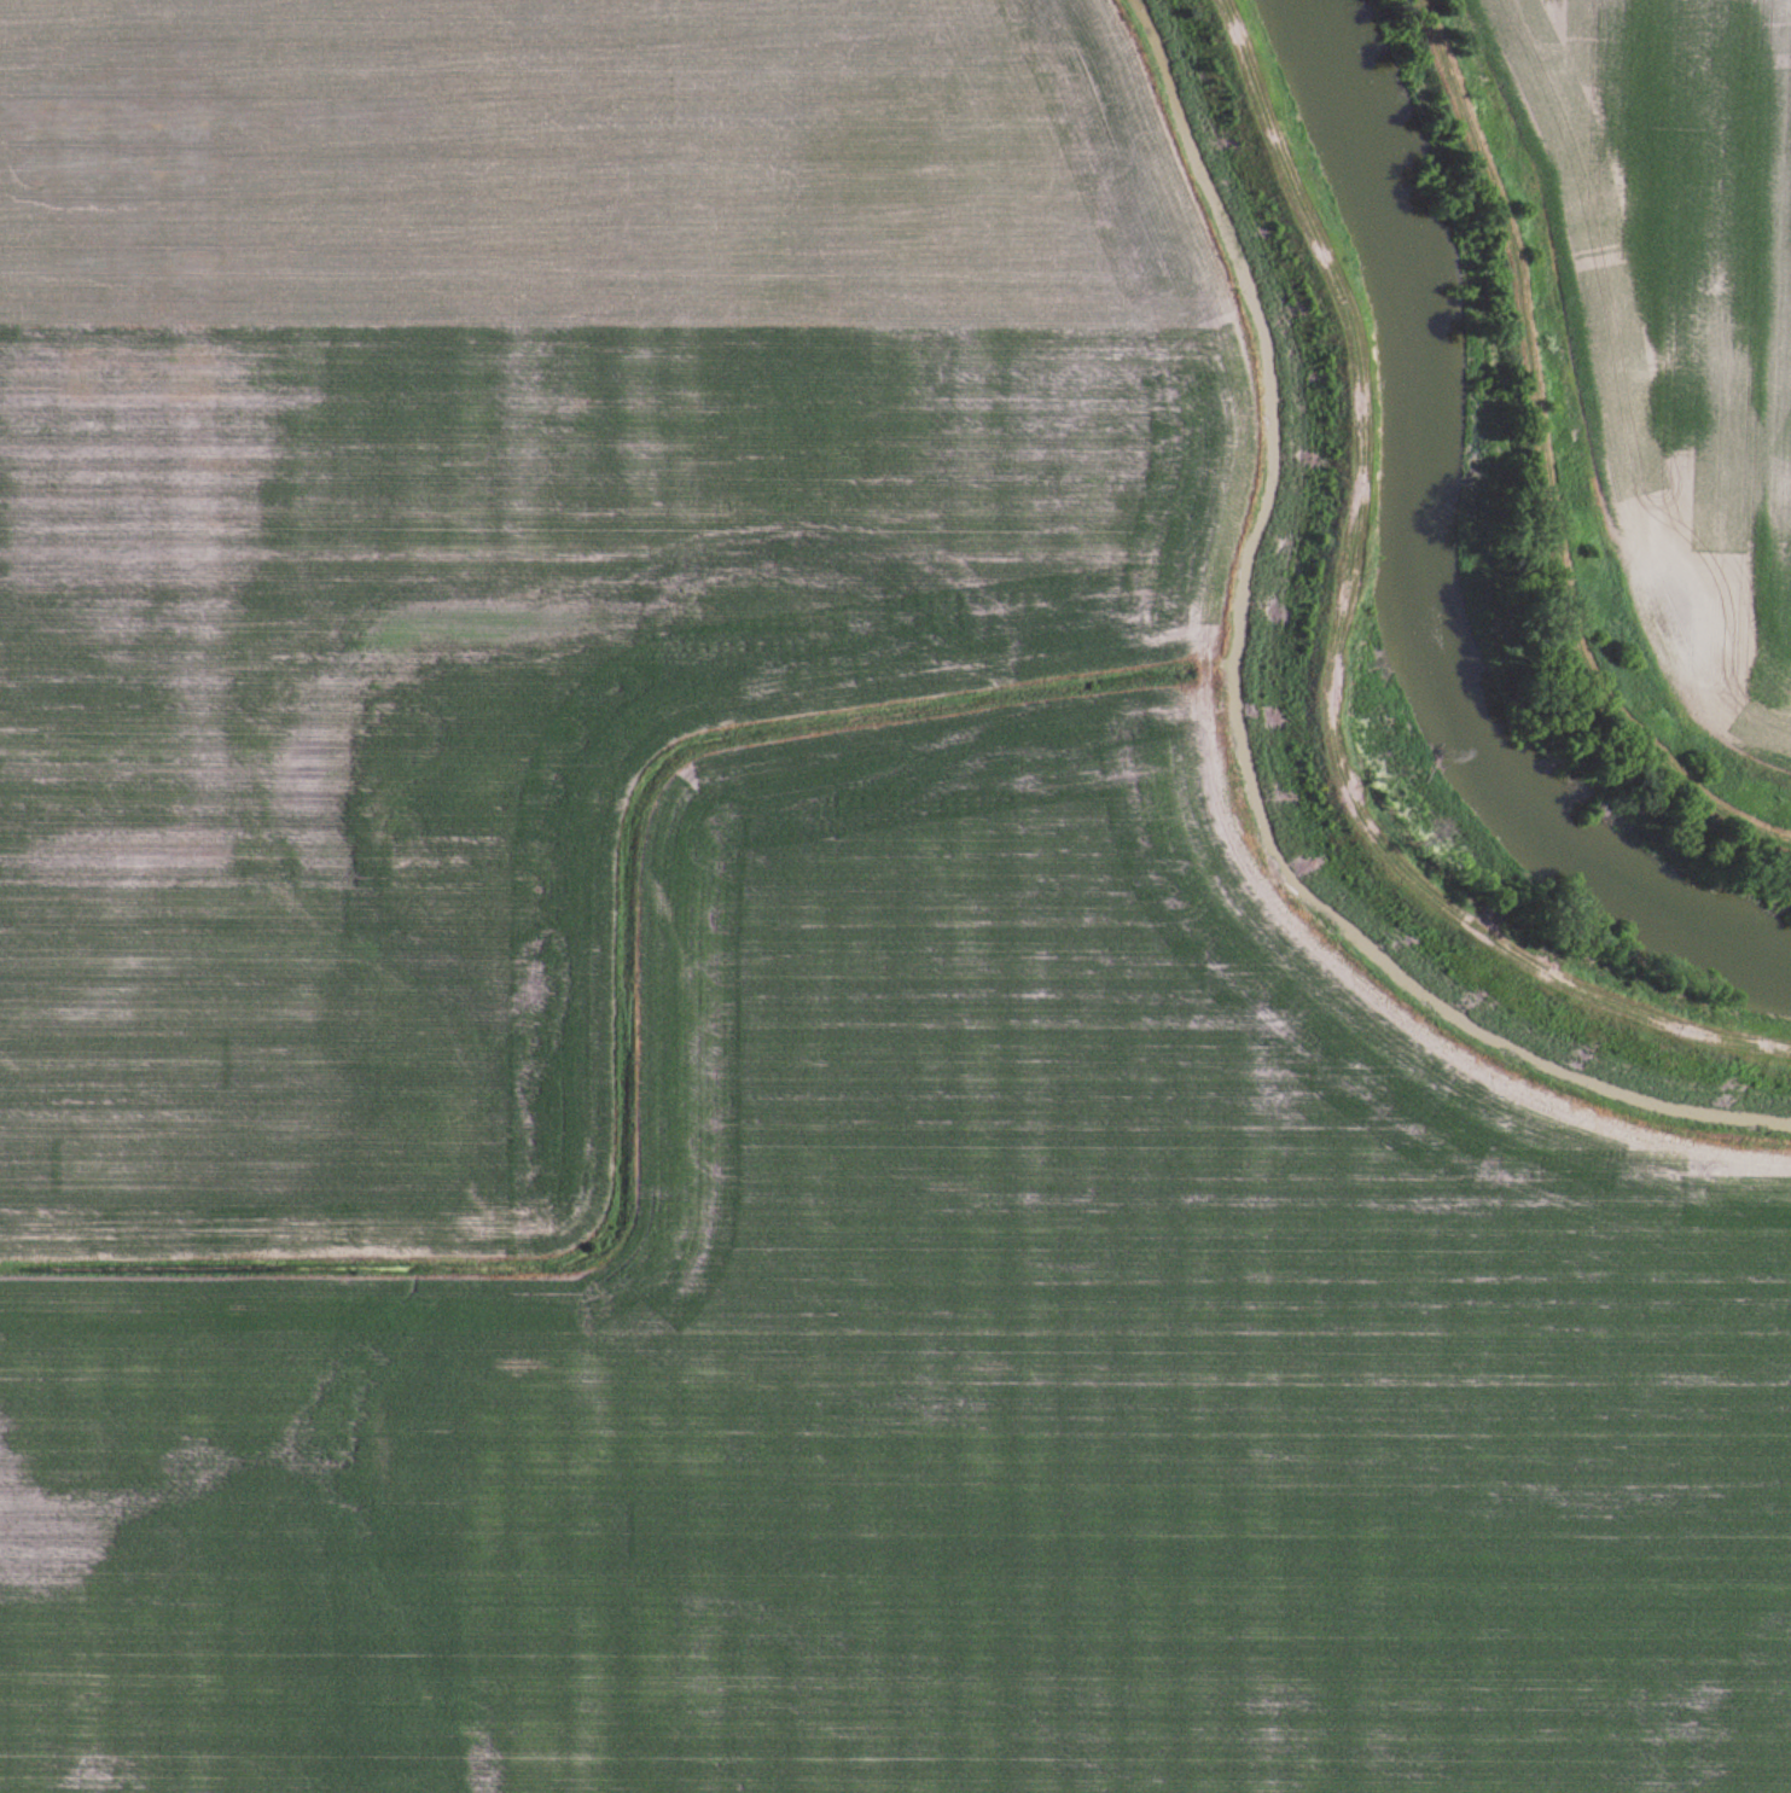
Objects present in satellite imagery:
river: (1429, 554)
crop: (751, 984)

